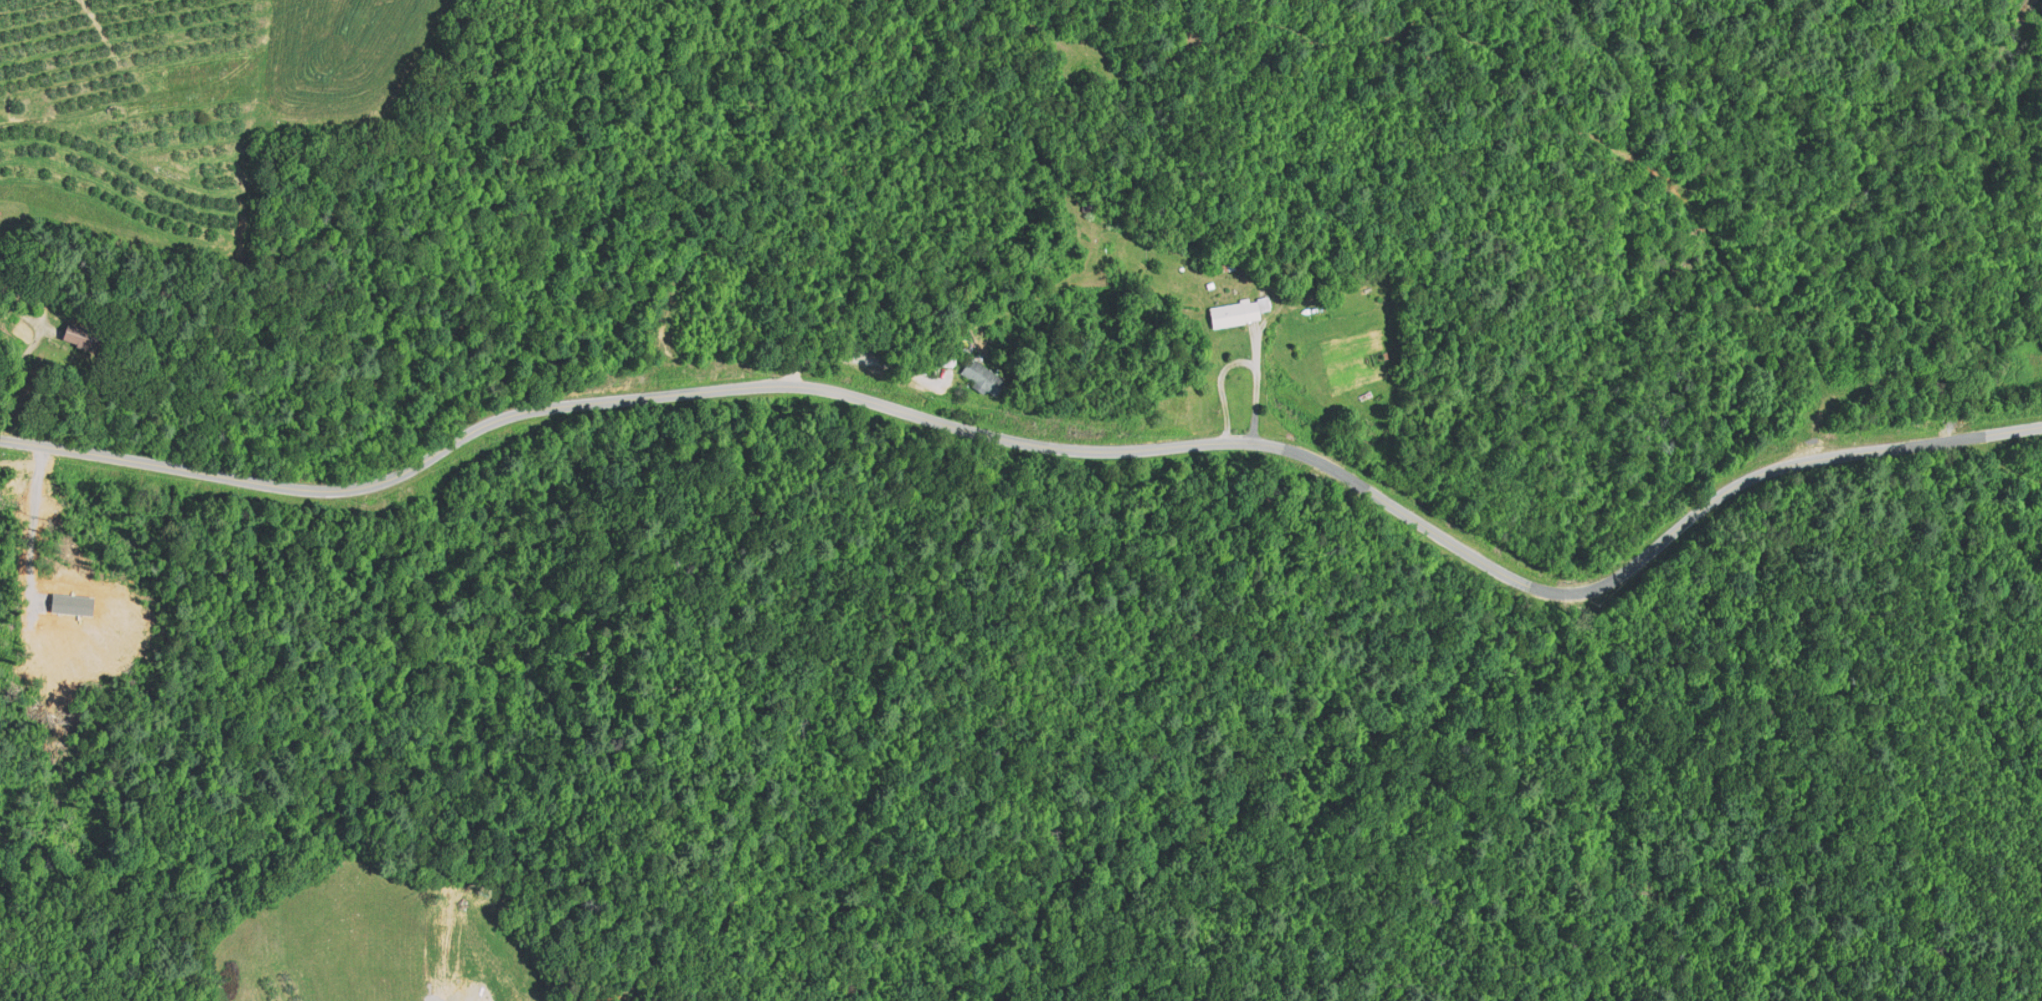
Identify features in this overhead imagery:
building: (1090, 205)
building: (1237, 313)
building: (78, 336)
road: (38, 340)
building: (982, 377)
road: (1258, 383)
road: (1048, 444)
building: (70, 603)

